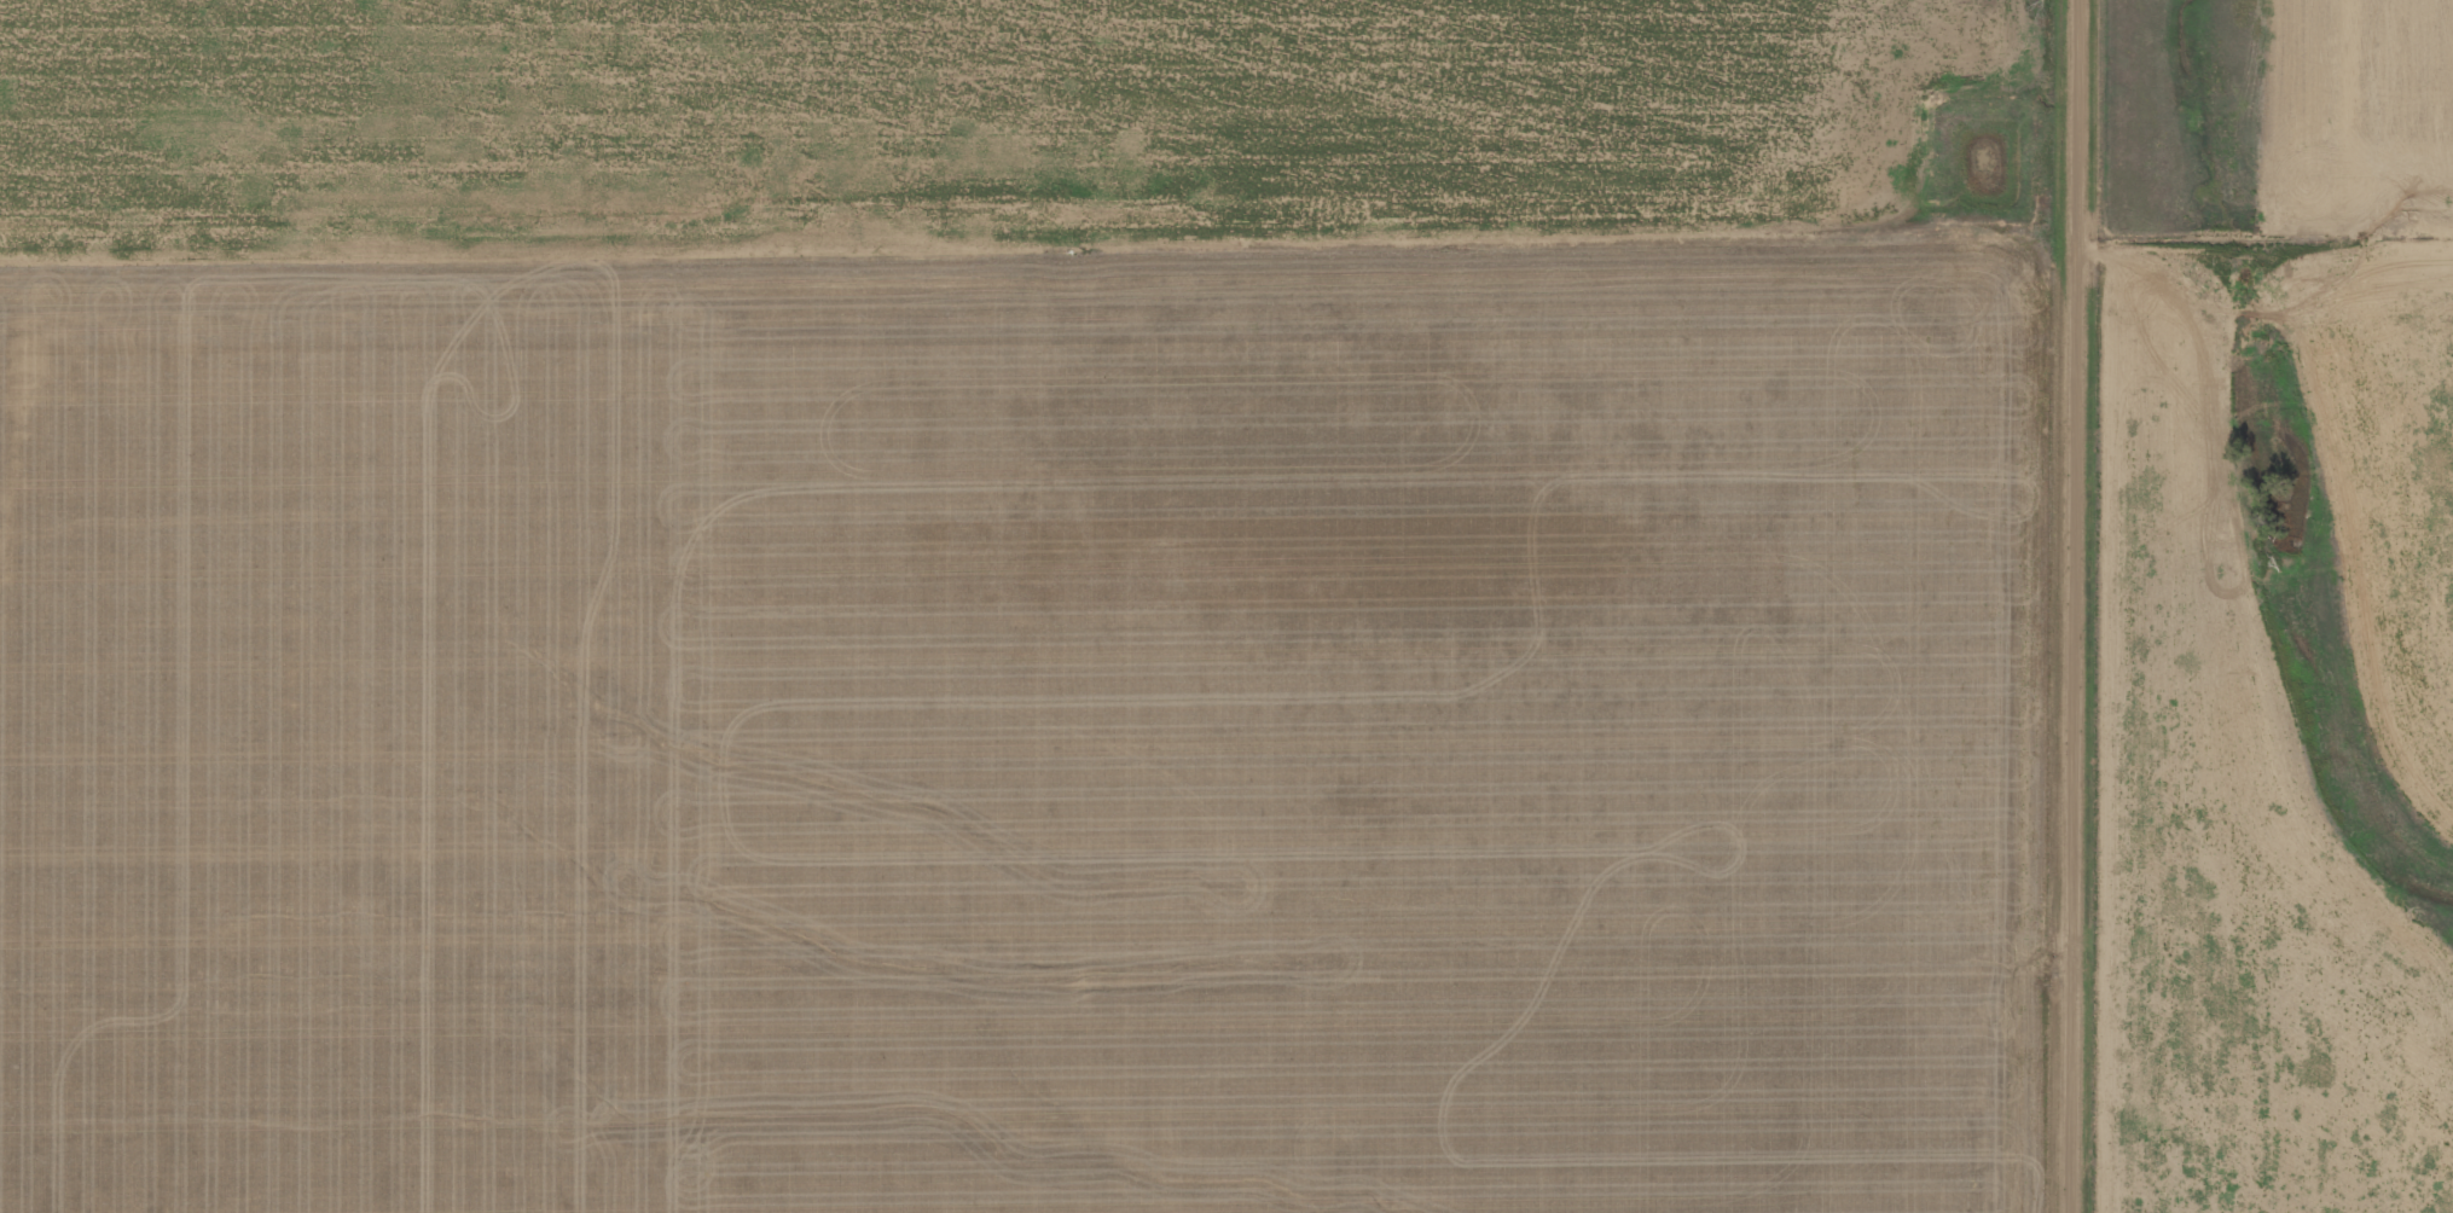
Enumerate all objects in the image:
road: (2077, 606)

